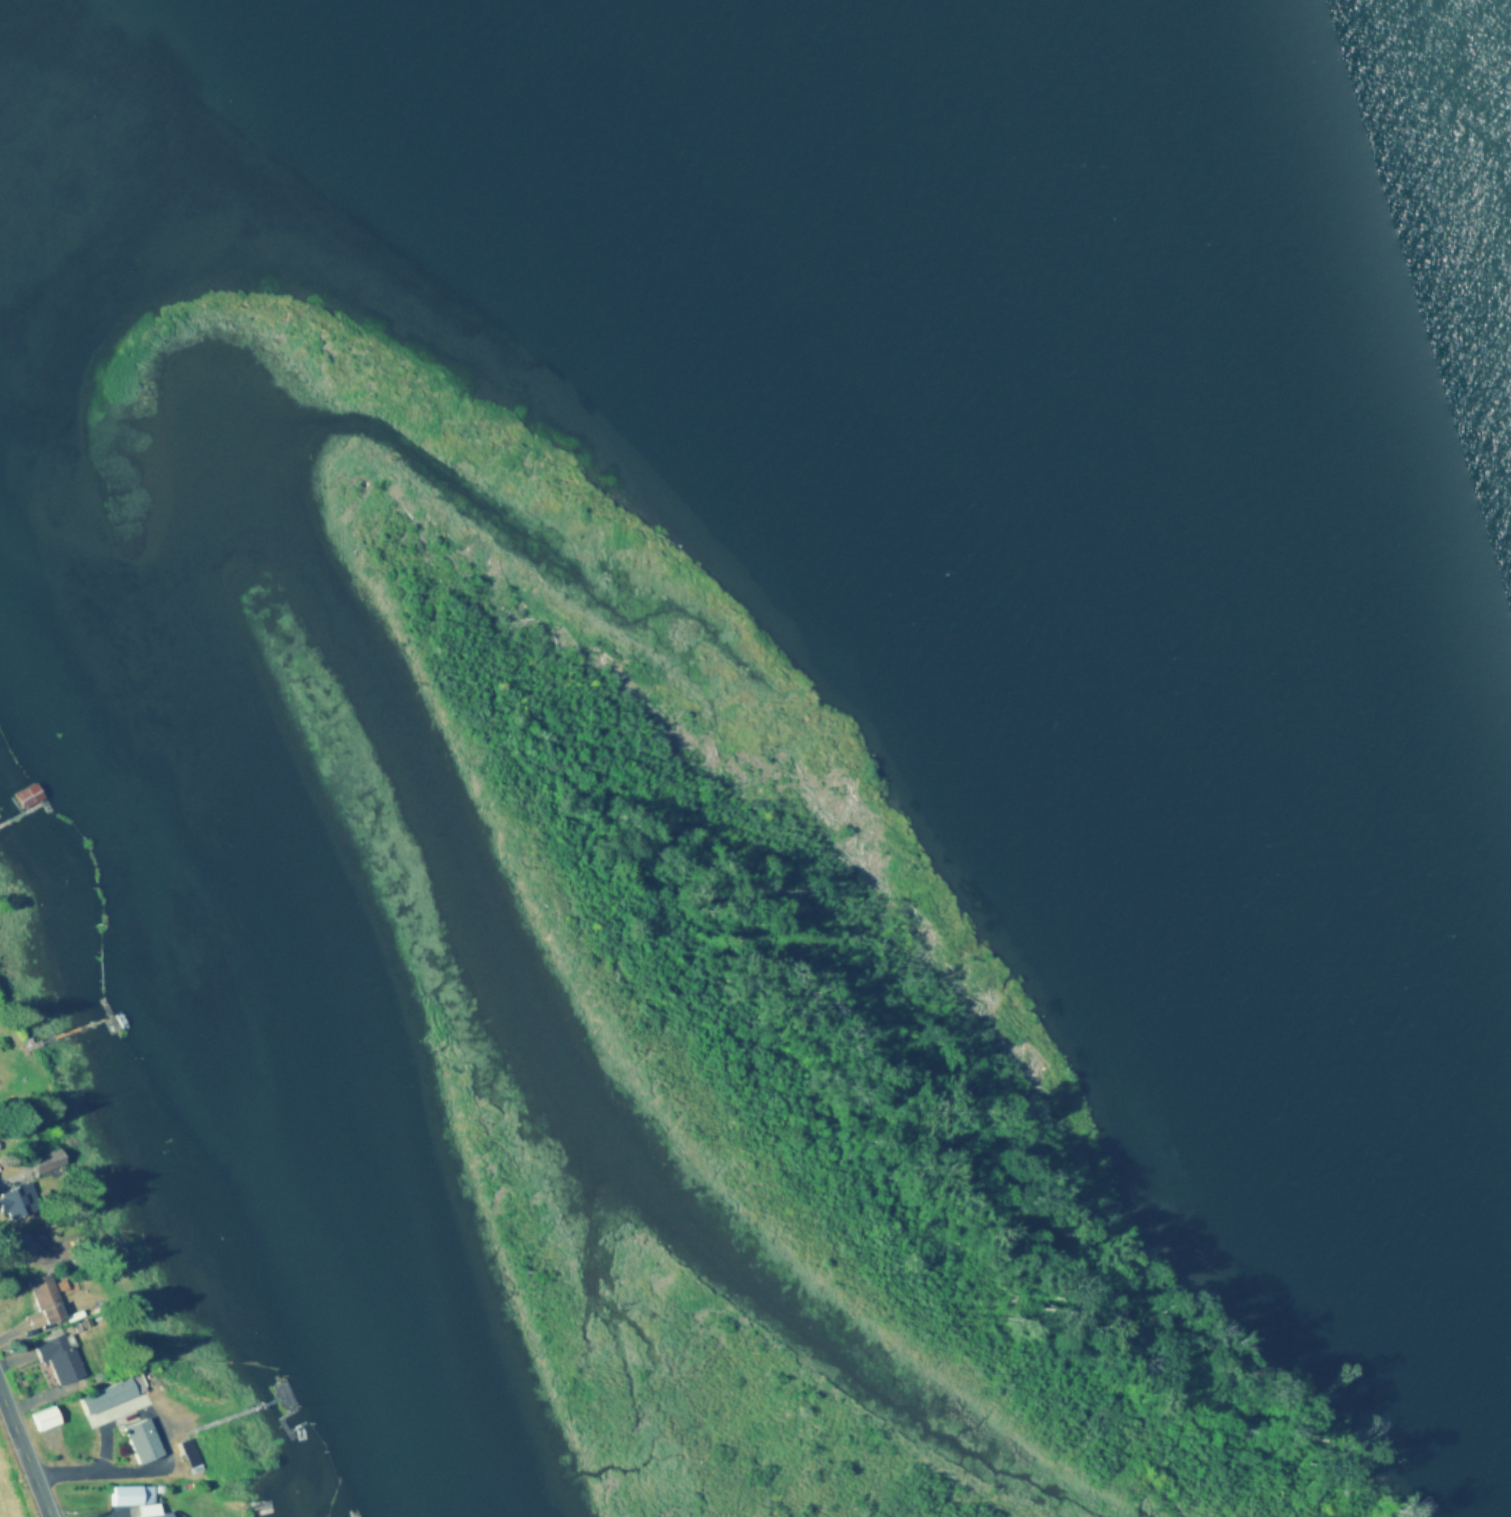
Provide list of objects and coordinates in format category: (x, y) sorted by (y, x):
river: (2, 14)
river: (1367, 160)
building: (26, 796)
river: (207, 1002)
building: (14, 1077)
building: (42, 1159)
building: (11, 1203)
building: (44, 1300)
building: (57, 1359)
building: (109, 1395)
building: (42, 1419)
building: (139, 1442)
road: (22, 1458)
crop: (15, 1478)
building: (134, 1499)

